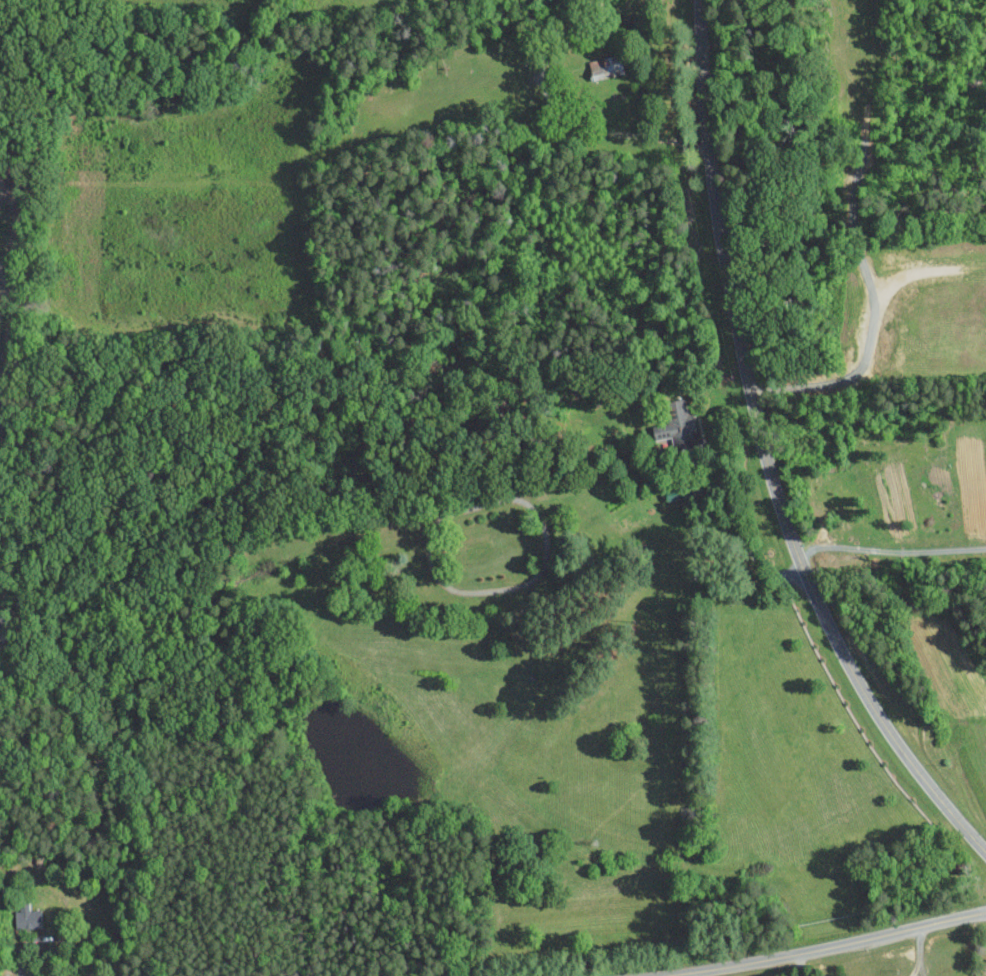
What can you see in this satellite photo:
building: (604, 66)
building: (675, 425)
road: (766, 454)
road: (891, 550)
road: (901, 604)
building: (27, 915)
road: (845, 947)

